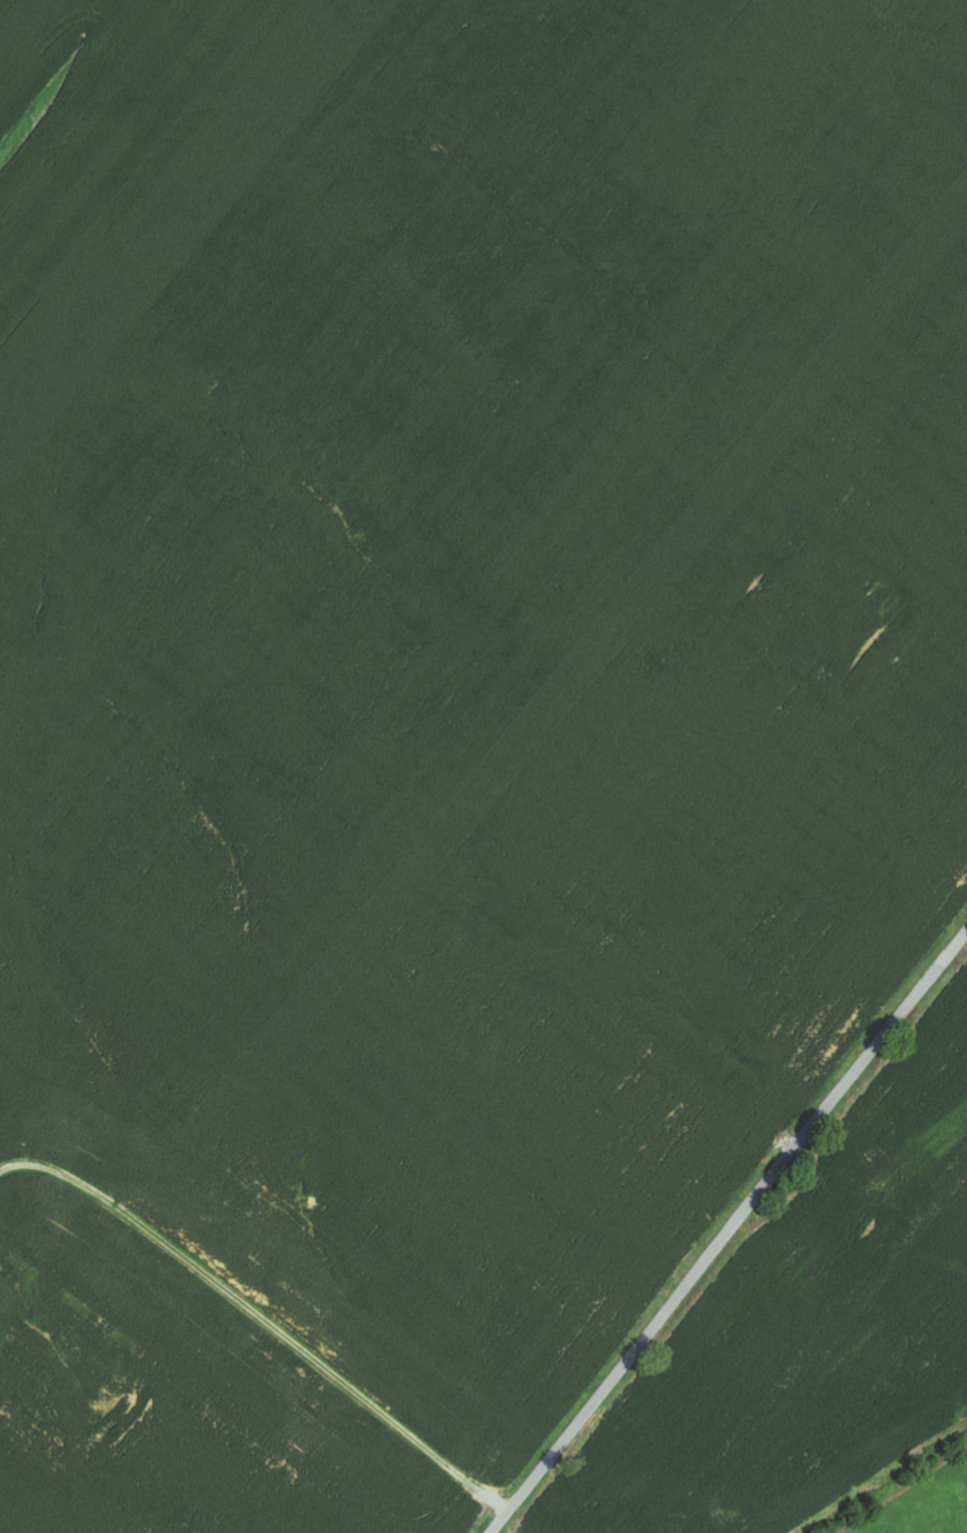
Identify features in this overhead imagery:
road: (728, 1233)
road: (276, 1283)

